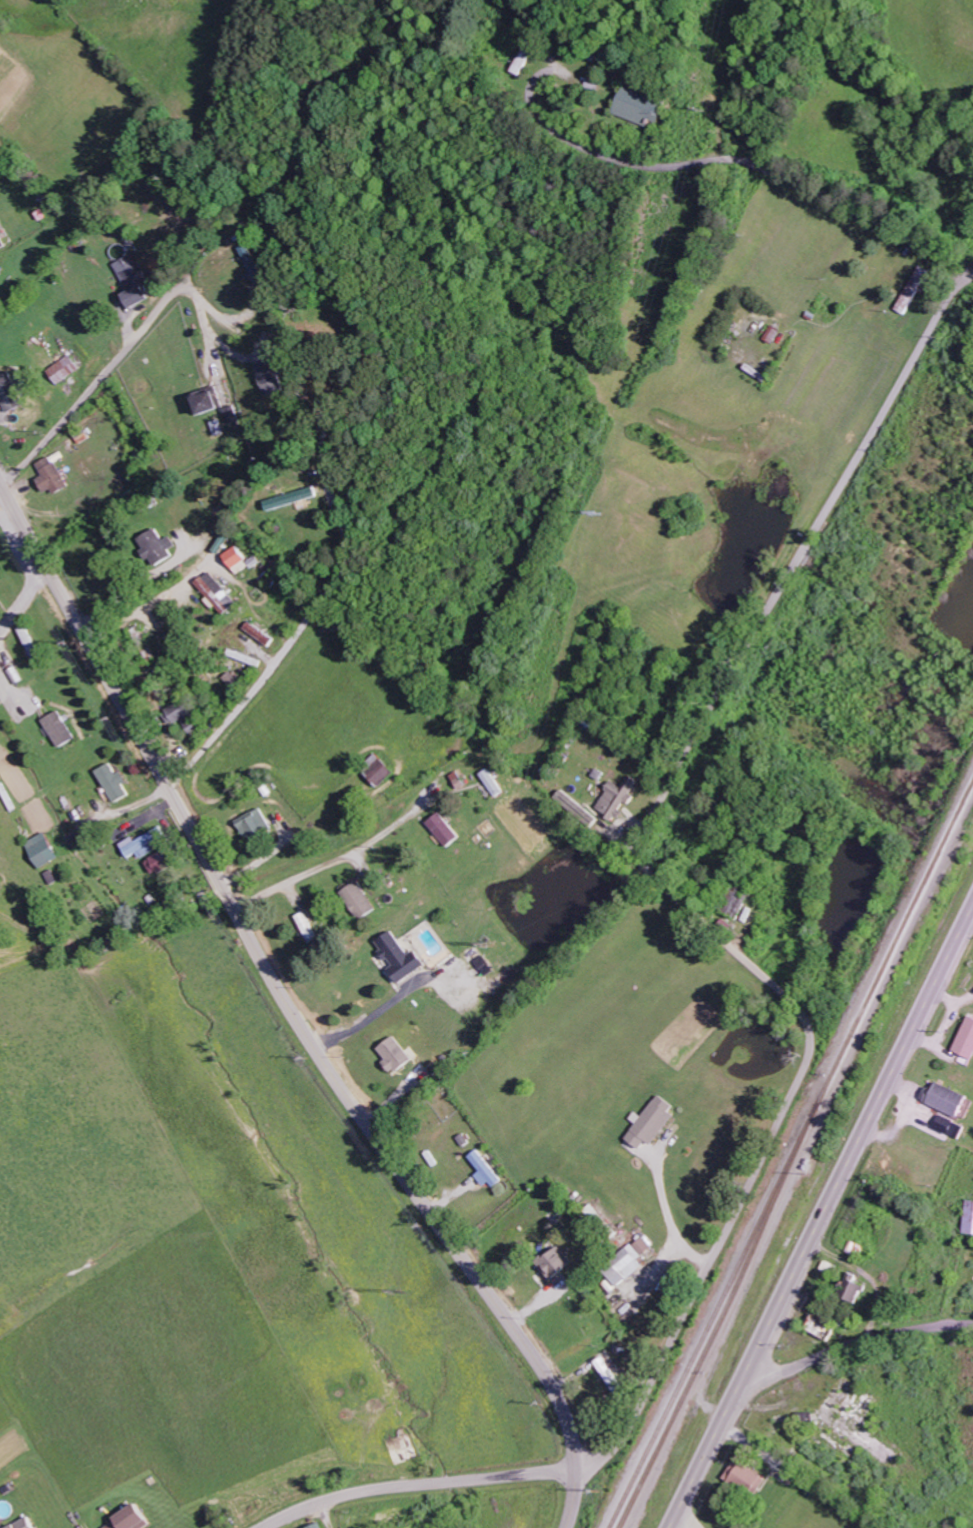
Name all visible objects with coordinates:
building: (527, 59)
building: (644, 108)
building: (2, 242)
building: (255, 265)
building: (134, 280)
building: (65, 370)
building: (273, 377)
road: (97, 383)
building: (10, 392)
building: (211, 400)
building: (53, 476)
building: (295, 498)
building: (160, 547)
building: (238, 560)
building: (219, 594)
road: (301, 628)
building: (261, 633)
building: (184, 715)
building: (60, 729)
building: (380, 770)
building: (114, 783)
building: (619, 798)
building: (256, 824)
building: (445, 830)
building: (143, 844)
building: (44, 849)
building: (161, 862)
road: (671, 882)
building: (361, 899)
building: (734, 900)
building: (403, 957)
road: (292, 1012)
building: (967, 1040)
building: (397, 1055)
building: (949, 1099)
building: (653, 1122)
building: (951, 1127)
railway: (792, 1157)
building: (486, 1170)
road: (821, 1217)
building: (969, 1218)
building: (631, 1262)
building: (557, 1263)
building: (854, 1288)
railway: (715, 1310)
building: (823, 1329)
road: (850, 1345)
building: (748, 1477)
road: (414, 1483)
building: (132, 1518)
building: (28, 1523)
building: (318, 1526)

